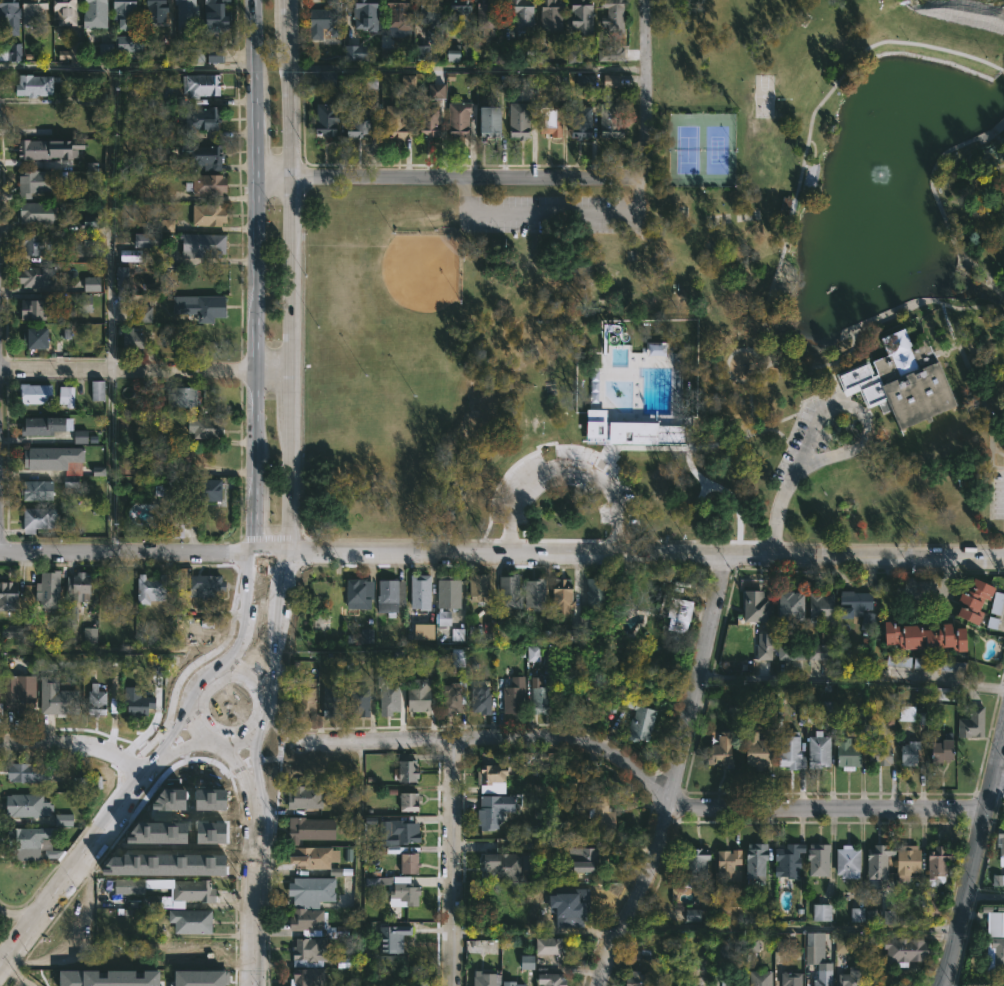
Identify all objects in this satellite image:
building: (158, 10)
building: (67, 11)
building: (126, 11)
building: (36, 12)
building: (97, 13)
building: (189, 13)
building: (403, 13)
building: (11, 14)
building: (368, 14)
building: (489, 14)
building: (615, 14)
building: (435, 15)
building: (553, 15)
building: (464, 16)
building: (586, 17)
building: (524, 19)
building: (329, 20)
building: (219, 26)
building: (129, 42)
building: (105, 49)
building: (13, 52)
building: (71, 52)
building: (355, 52)
building: (421, 52)
building: (613, 53)
building: (453, 54)
building: (196, 55)
building: (574, 56)
building: (541, 57)
road: (178, 67)
road: (465, 67)
road: (1002, 70)
building: (328, 78)
building: (611, 80)
building: (370, 81)
building: (408, 81)
building: (585, 81)
building: (36, 84)
building: (202, 84)
road: (647, 89)
building: (436, 91)
building: (91, 98)
building: (37, 115)
building: (360, 116)
building: (205, 117)
building: (552, 117)
building: (328, 118)
building: (462, 118)
building: (522, 119)
building: (399, 120)
building: (432, 120)
building: (496, 120)
building: (614, 120)
building: (584, 122)
building: (74, 128)
building: (37, 148)
park: (700, 150)
building: (205, 155)
road: (108, 165)
road: (268, 178)
road: (465, 178)
building: (38, 180)
building: (209, 184)
road: (940, 203)
building: (38, 212)
road: (549, 213)
building: (211, 214)
parking lot: (549, 214)
building: (150, 239)
building: (37, 242)
building: (205, 244)
building: (130, 255)
building: (37, 275)
road: (253, 276)
park: (422, 276)
road: (285, 277)
building: (122, 278)
building: (92, 284)
building: (84, 303)
building: (203, 307)
park: (693, 307)
building: (38, 309)
building: (143, 311)
road: (1003, 325)
building: (38, 337)
building: (133, 337)
building: (656, 348)
road: (947, 351)
road: (770, 355)
road: (729, 358)
road: (788, 362)
road: (127, 370)
road: (271, 372)
building: (912, 380)
building: (97, 390)
building: (39, 393)
building: (66, 396)
building: (184, 396)
building: (680, 420)
road: (781, 423)
building: (47, 425)
building: (206, 426)
road: (748, 427)
building: (618, 430)
building: (662, 435)
building: (80, 436)
parking lot: (801, 441)
road: (850, 446)
road: (696, 447)
road: (793, 451)
road: (997, 451)
building: (168, 456)
building: (57, 459)
road: (563, 464)
building: (130, 467)
road: (998, 469)
building: (98, 471)
building: (207, 489)
parking lot: (520, 489)
building: (38, 490)
building: (172, 490)
parking lot: (998, 496)
building: (40, 519)
building: (178, 523)
road: (646, 552)
road: (127, 553)
road: (271, 554)
building: (83, 585)
building: (208, 586)
building: (481, 587)
building: (152, 588)
building: (422, 591)
building: (451, 591)
building: (50, 592)
building: (361, 593)
building: (511, 594)
building: (599, 594)
building: (537, 595)
building: (9, 596)
building: (392, 596)
building: (564, 596)
building: (970, 599)
building: (997, 603)
building: (785, 604)
building: (754, 605)
building: (817, 606)
building: (855, 608)
building: (674, 613)
road: (242, 615)
building: (444, 617)
building: (29, 618)
building: (578, 630)
building: (427, 631)
road: (276, 632)
building: (19, 634)
building: (89, 634)
building: (457, 634)
building: (367, 635)
building: (920, 636)
building: (768, 646)
building: (791, 651)
building: (817, 652)
building: (533, 653)
building: (458, 657)
building: (898, 660)
building: (952, 665)
road: (851, 676)
building: (21, 691)
building: (0, 694)
building: (421, 694)
building: (944, 694)
building: (454, 695)
building: (516, 696)
building: (390, 697)
building: (335, 698)
building: (483, 698)
building: (543, 699)
building: (98, 700)
road: (263, 702)
building: (307, 702)
building: (361, 702)
building: (59, 703)
building: (139, 703)
building: (827, 707)
building: (1, 708)
building: (907, 713)
building: (641, 719)
building: (971, 722)
road: (168, 734)
building: (818, 741)
road: (41, 744)
road: (174, 746)
building: (754, 748)
building: (938, 749)
building: (722, 750)
building: (844, 753)
building: (876, 753)
building: (906, 753)
road: (111, 755)
road: (621, 761)
road: (253, 768)
building: (520, 769)
building: (411, 771)
building: (31, 772)
road: (239, 773)
road: (675, 773)
building: (495, 778)
building: (79, 783)
road: (997, 788)
building: (348, 790)
building: (306, 797)
building: (197, 800)
building: (411, 802)
building: (29, 806)
building: (598, 810)
building: (492, 813)
building: (64, 819)
building: (310, 830)
building: (406, 831)
building: (211, 832)
building: (1000, 840)
building: (30, 843)
building: (190, 843)
building: (52, 853)
building: (816, 858)
building: (593, 859)
road: (974, 859)
building: (318, 860)
building: (788, 860)
building: (756, 861)
building: (846, 861)
building: (904, 861)
building: (135, 862)
road: (453, 862)
building: (728, 862)
road: (76, 863)
building: (411, 863)
building: (875, 863)
building: (693, 865)
building: (937, 865)
building: (505, 866)
building: (997, 880)
building: (1003, 881)
building: (129, 888)
building: (314, 889)
building: (399, 889)
road: (254, 892)
building: (185, 894)
road: (985, 894)
building: (560, 907)
building: (934, 908)
building: (821, 912)
building: (857, 914)
building: (692, 915)
building: (889, 917)
road: (20, 918)
building: (193, 921)
building: (317, 922)
building: (995, 924)
road: (791, 927)
building: (392, 938)
building: (779, 945)
building: (841, 945)
building: (551, 946)
building: (900, 951)
building: (996, 951)
building: (196, 952)
building: (311, 952)
building: (644, 952)
building: (527, 962)
road: (16, 976)
building: (309, 977)
building: (848, 977)
building: (108, 978)
building: (639, 978)
building: (761, 978)
building: (186, 979)
building: (488, 979)
building: (734, 979)
building: (791, 979)
building: (820, 979)
building: (554, 980)
building: (424, 983)
building: (514, 984)
building: (900, 984)

